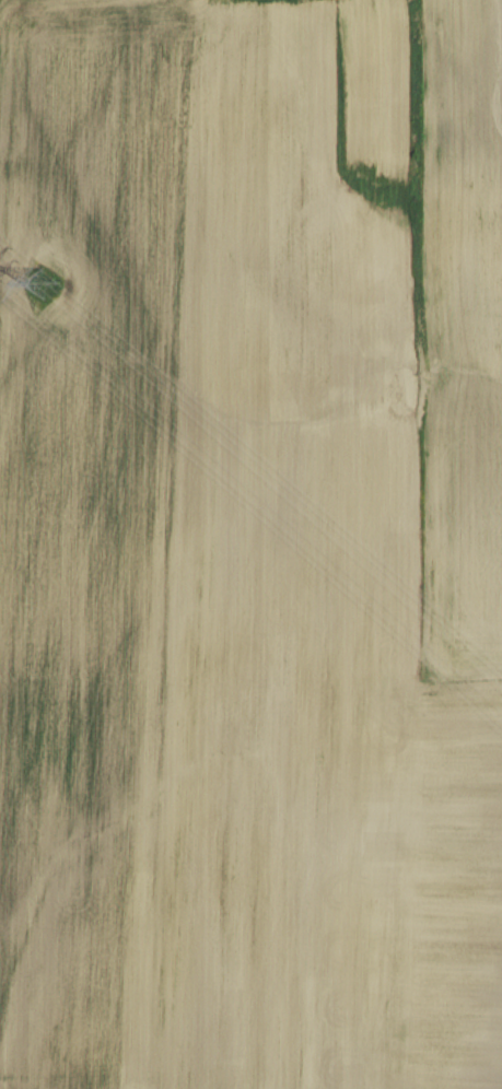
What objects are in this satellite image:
power tower: (39, 285)

